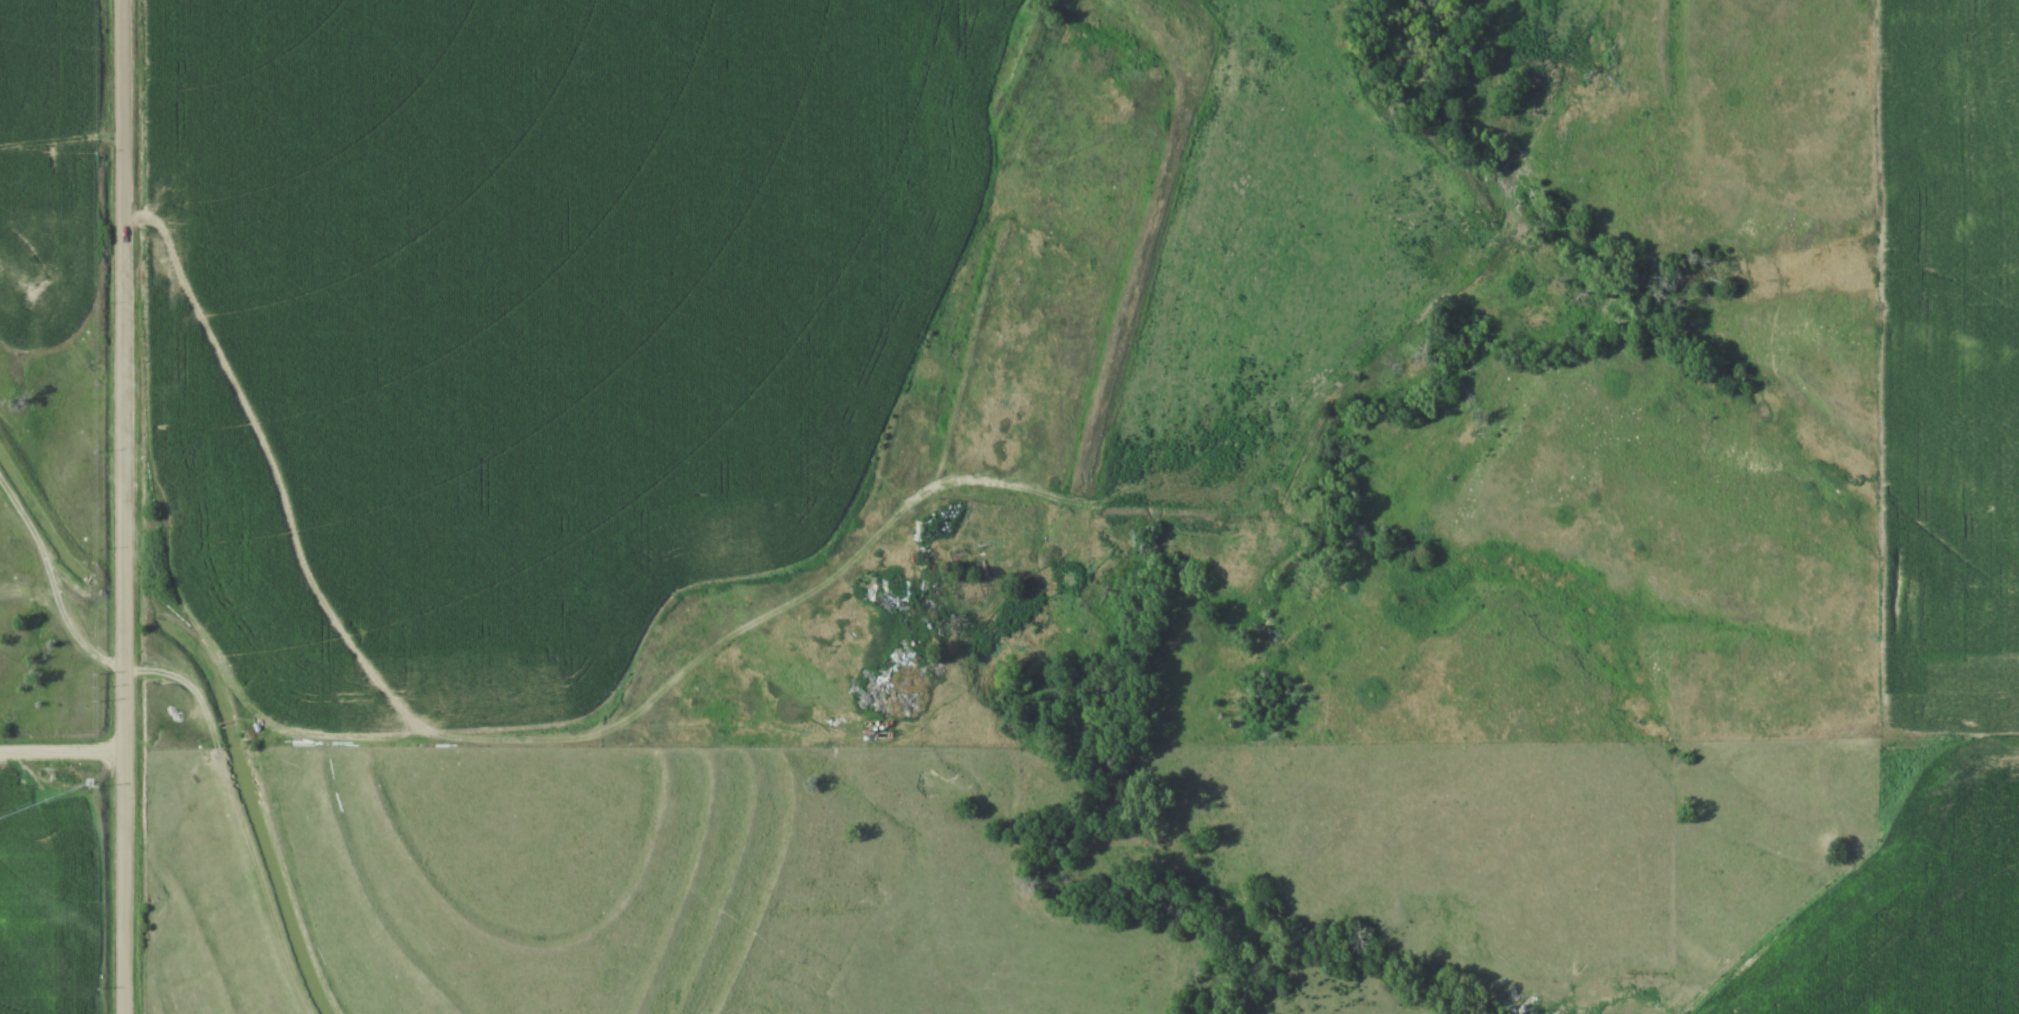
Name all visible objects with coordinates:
road: (118, 506)
road: (60, 755)

